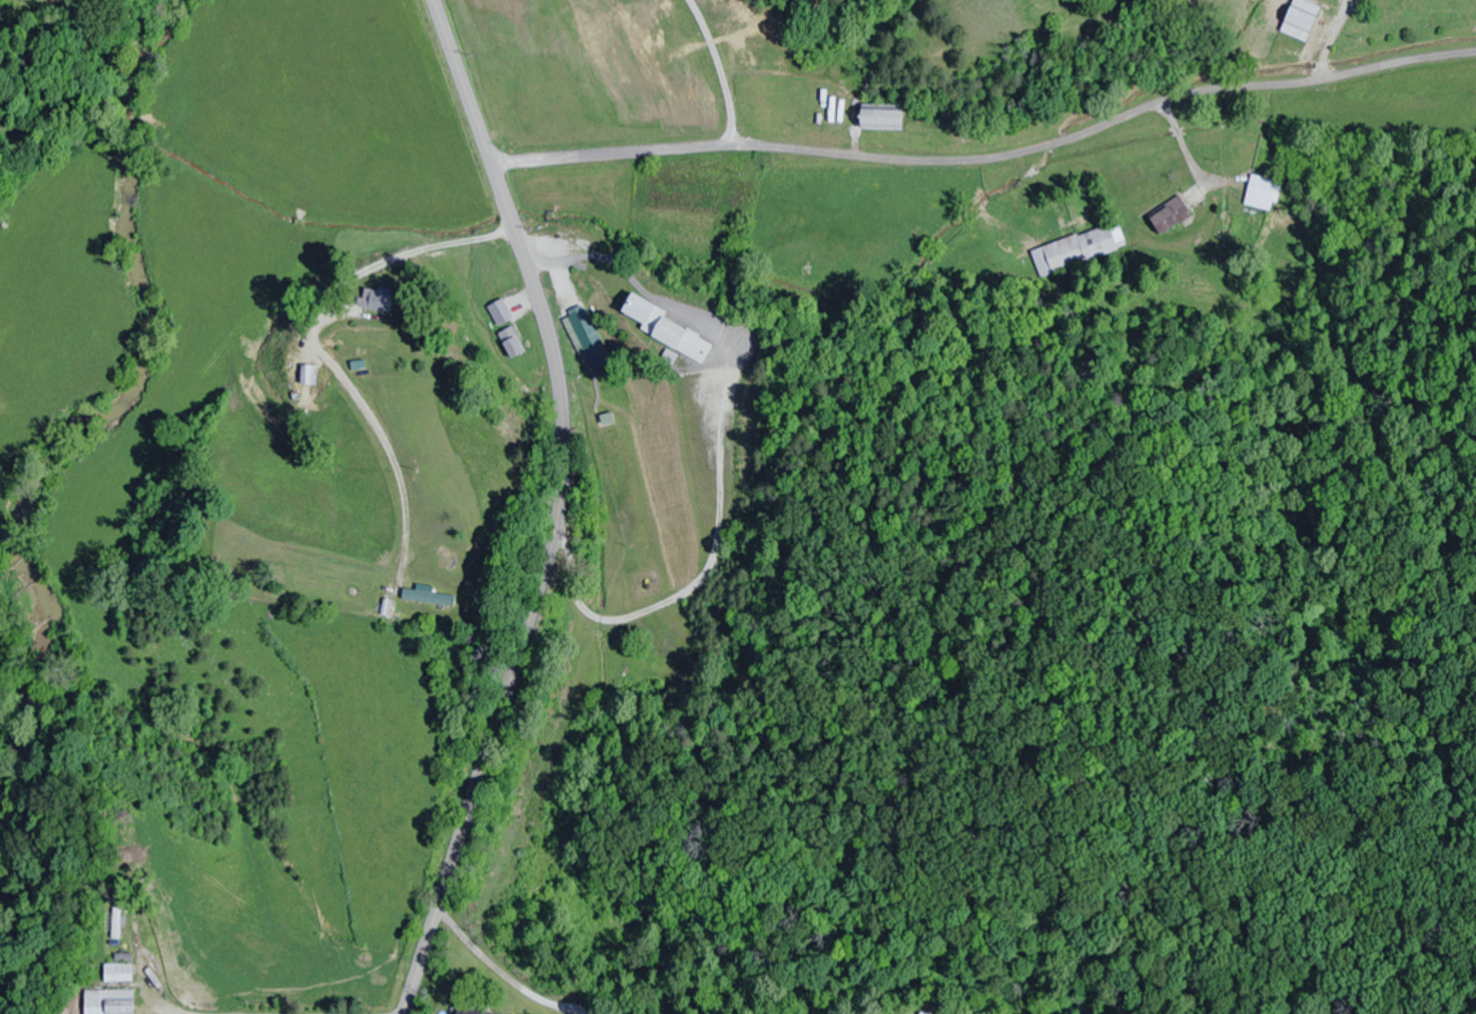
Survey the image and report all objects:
building: (1299, 19)
road: (679, 76)
building: (878, 117)
road: (989, 158)
building: (1257, 190)
building: (1168, 215)
building: (1078, 248)
road: (378, 272)
building: (376, 300)
building: (498, 313)
building: (667, 331)
building: (584, 339)
building: (308, 375)
road: (554, 508)
building: (427, 597)
road: (774, 816)
building: (116, 922)
building: (119, 968)
road: (159, 982)
building: (108, 1001)
road: (343, 1006)
building: (460, 1011)

